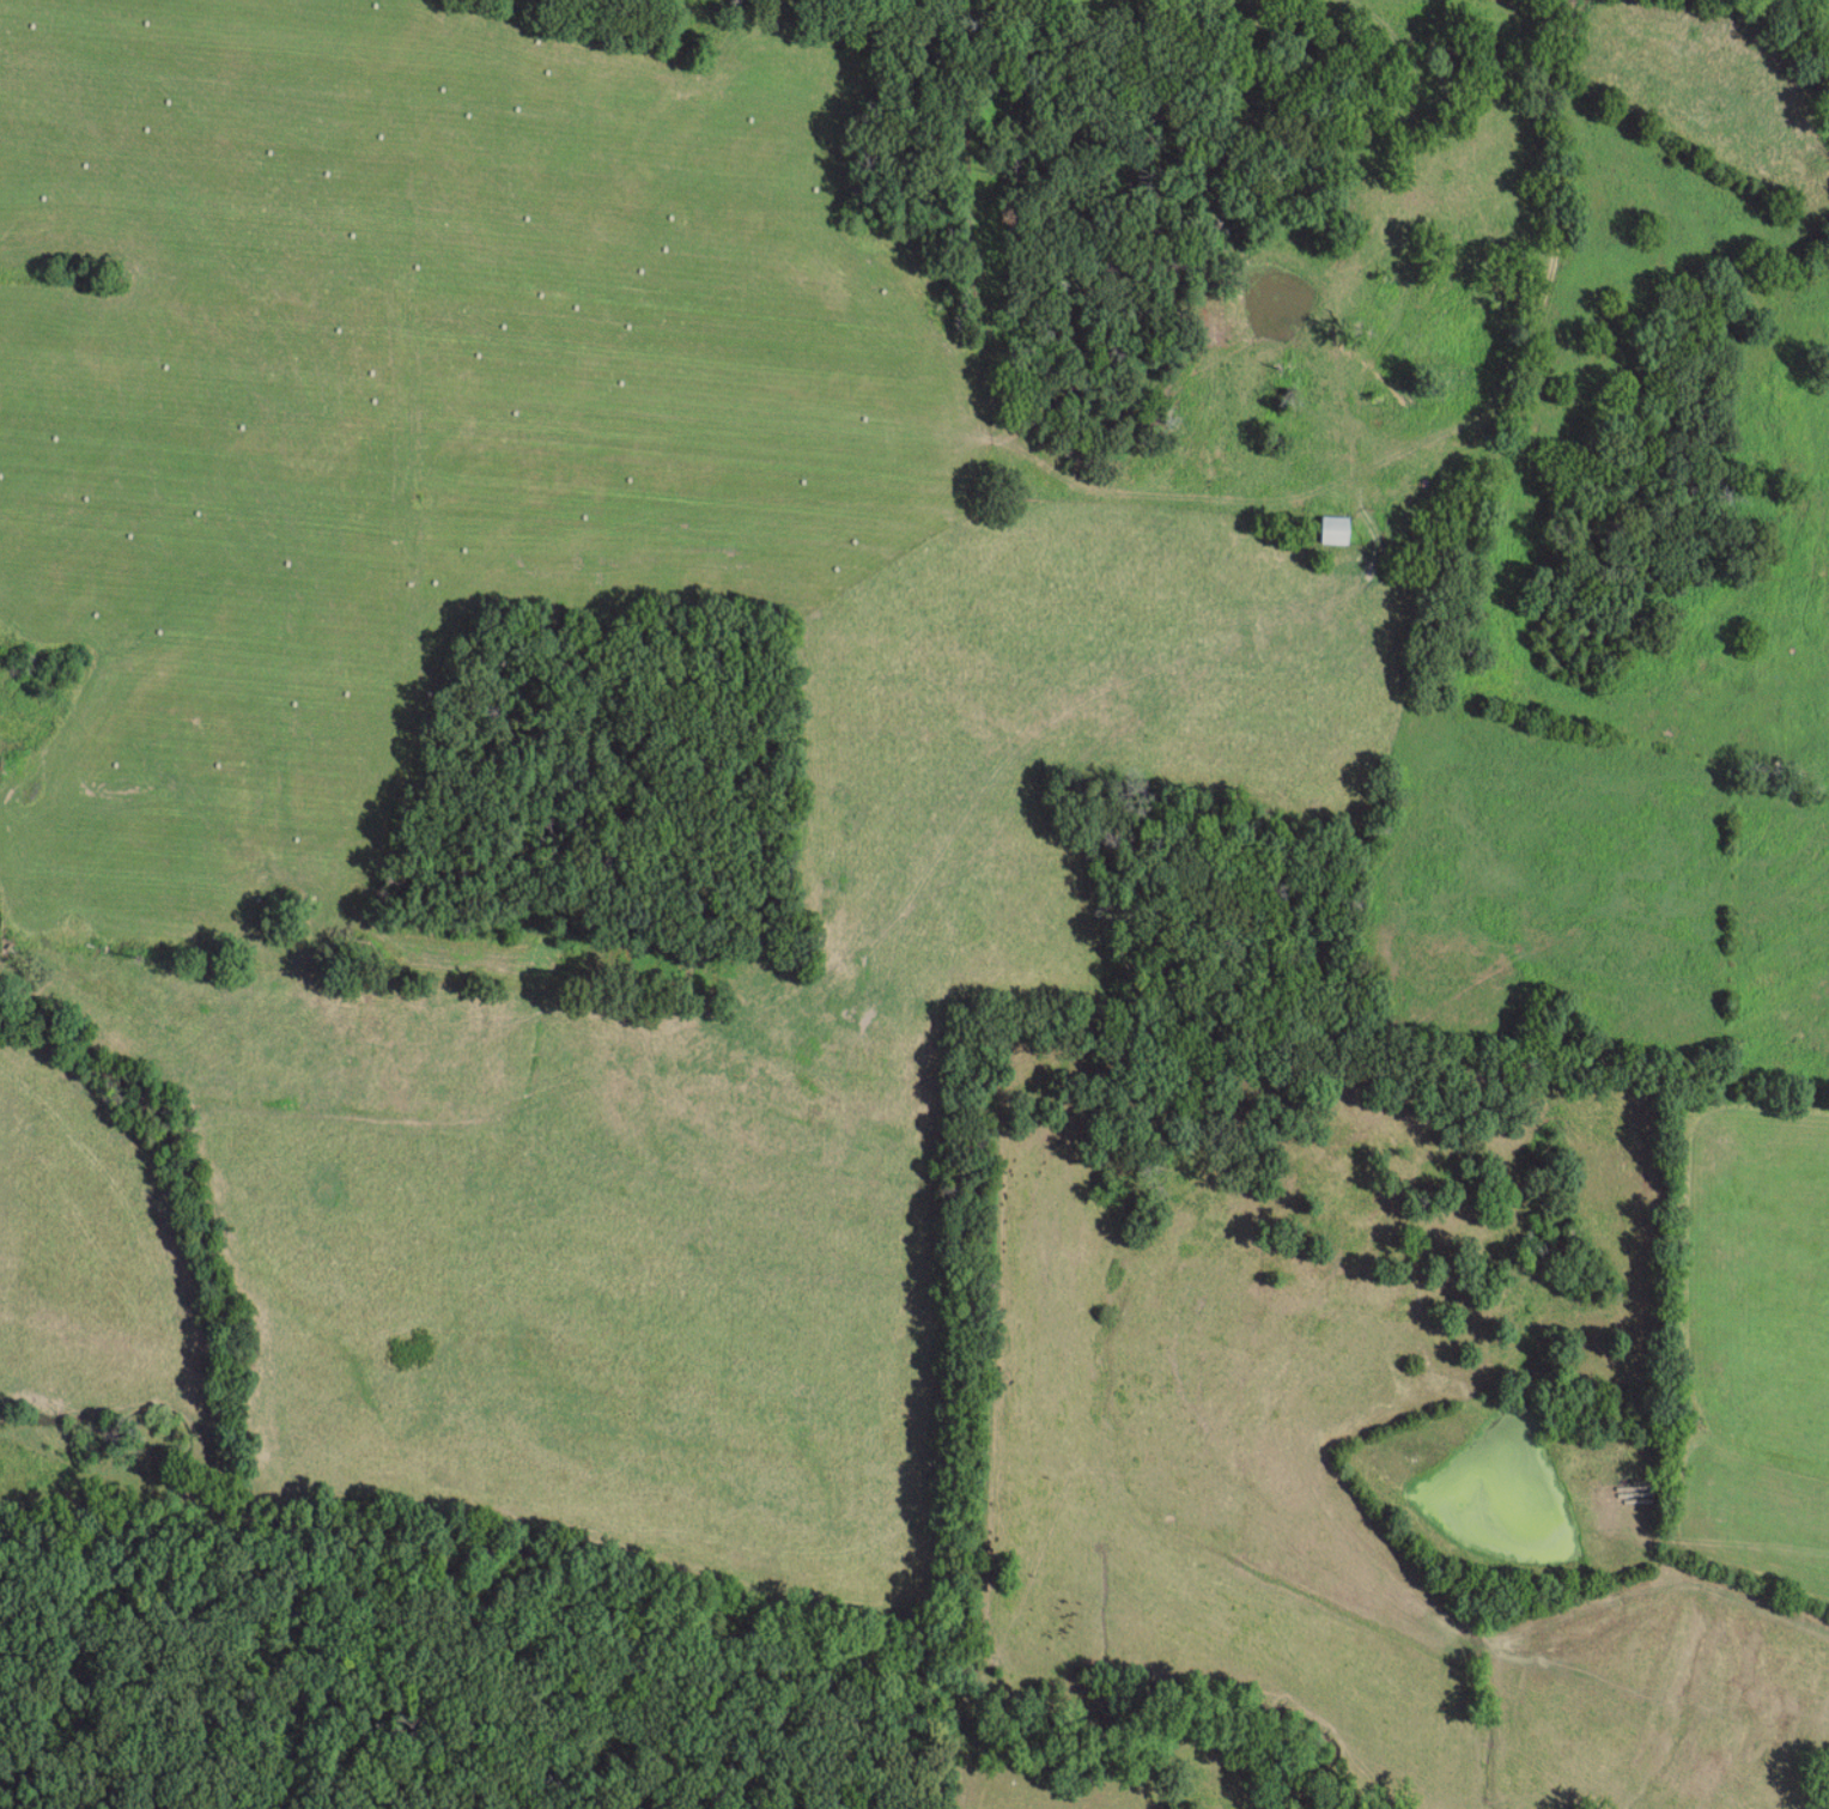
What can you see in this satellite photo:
building: (1342, 530)

